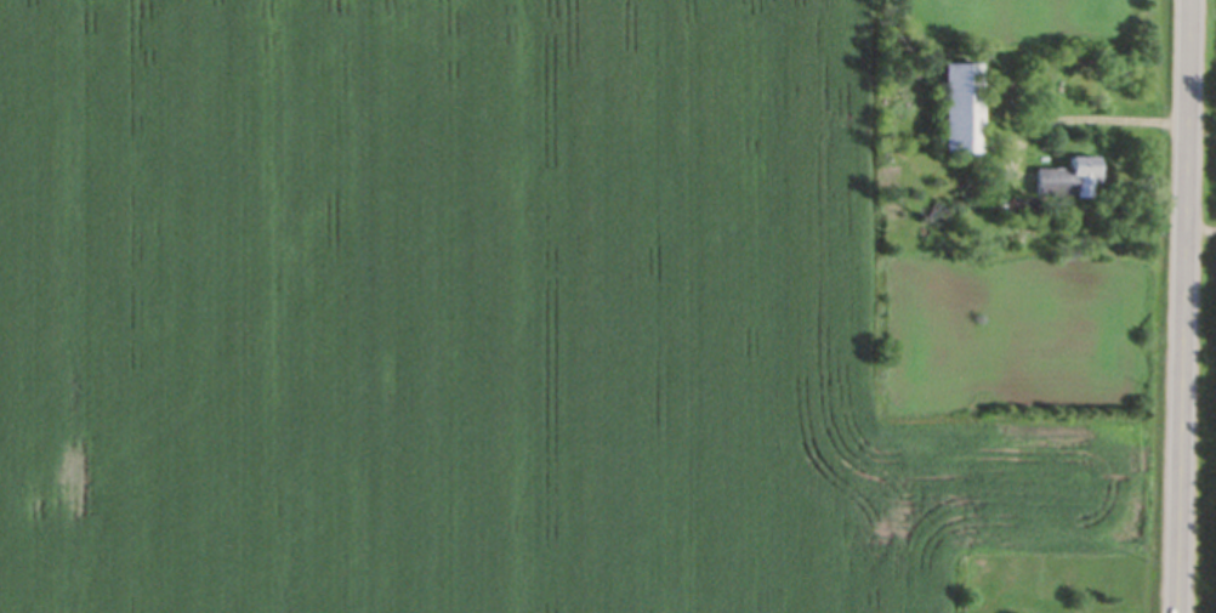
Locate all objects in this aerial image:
building: (960, 114)
building: (1067, 182)
road: (1183, 306)

